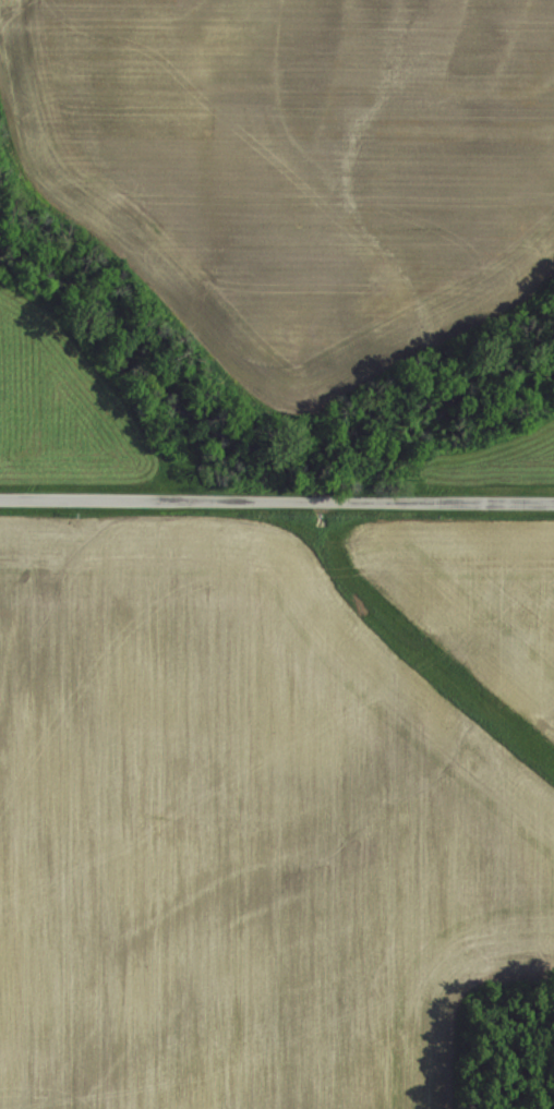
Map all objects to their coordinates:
road: (277, 490)

